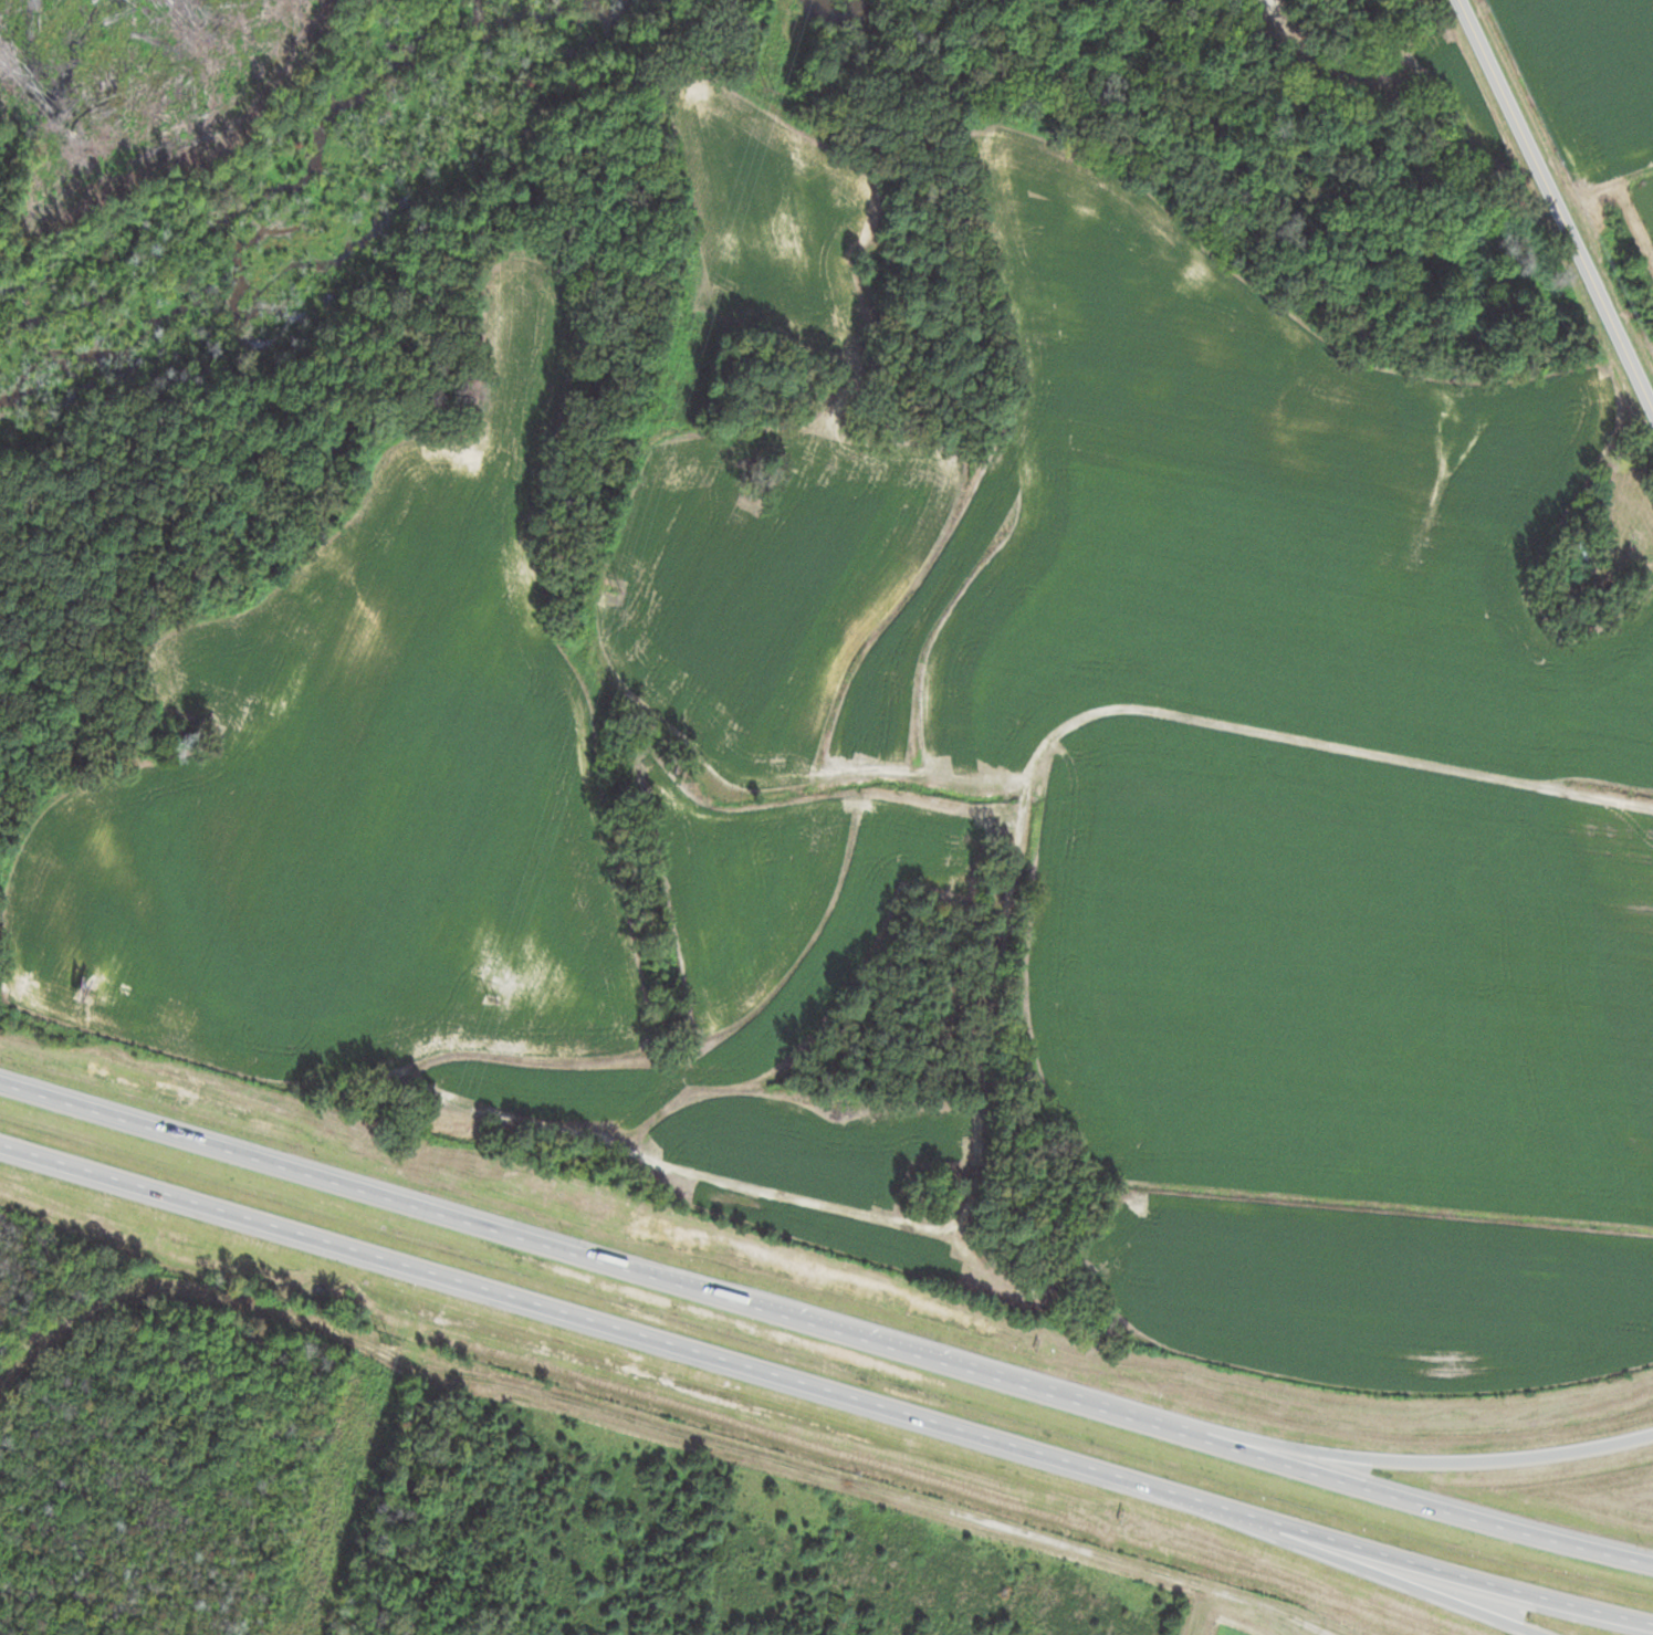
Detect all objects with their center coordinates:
power tower: (759, 90)
road: (1556, 203)
building: (1625, 515)
power tower: (617, 591)
power tower: (492, 999)
road: (826, 1325)
power tower: (383, 1345)
road: (825, 1387)
road: (1335, 1455)
road: (1211, 1515)

